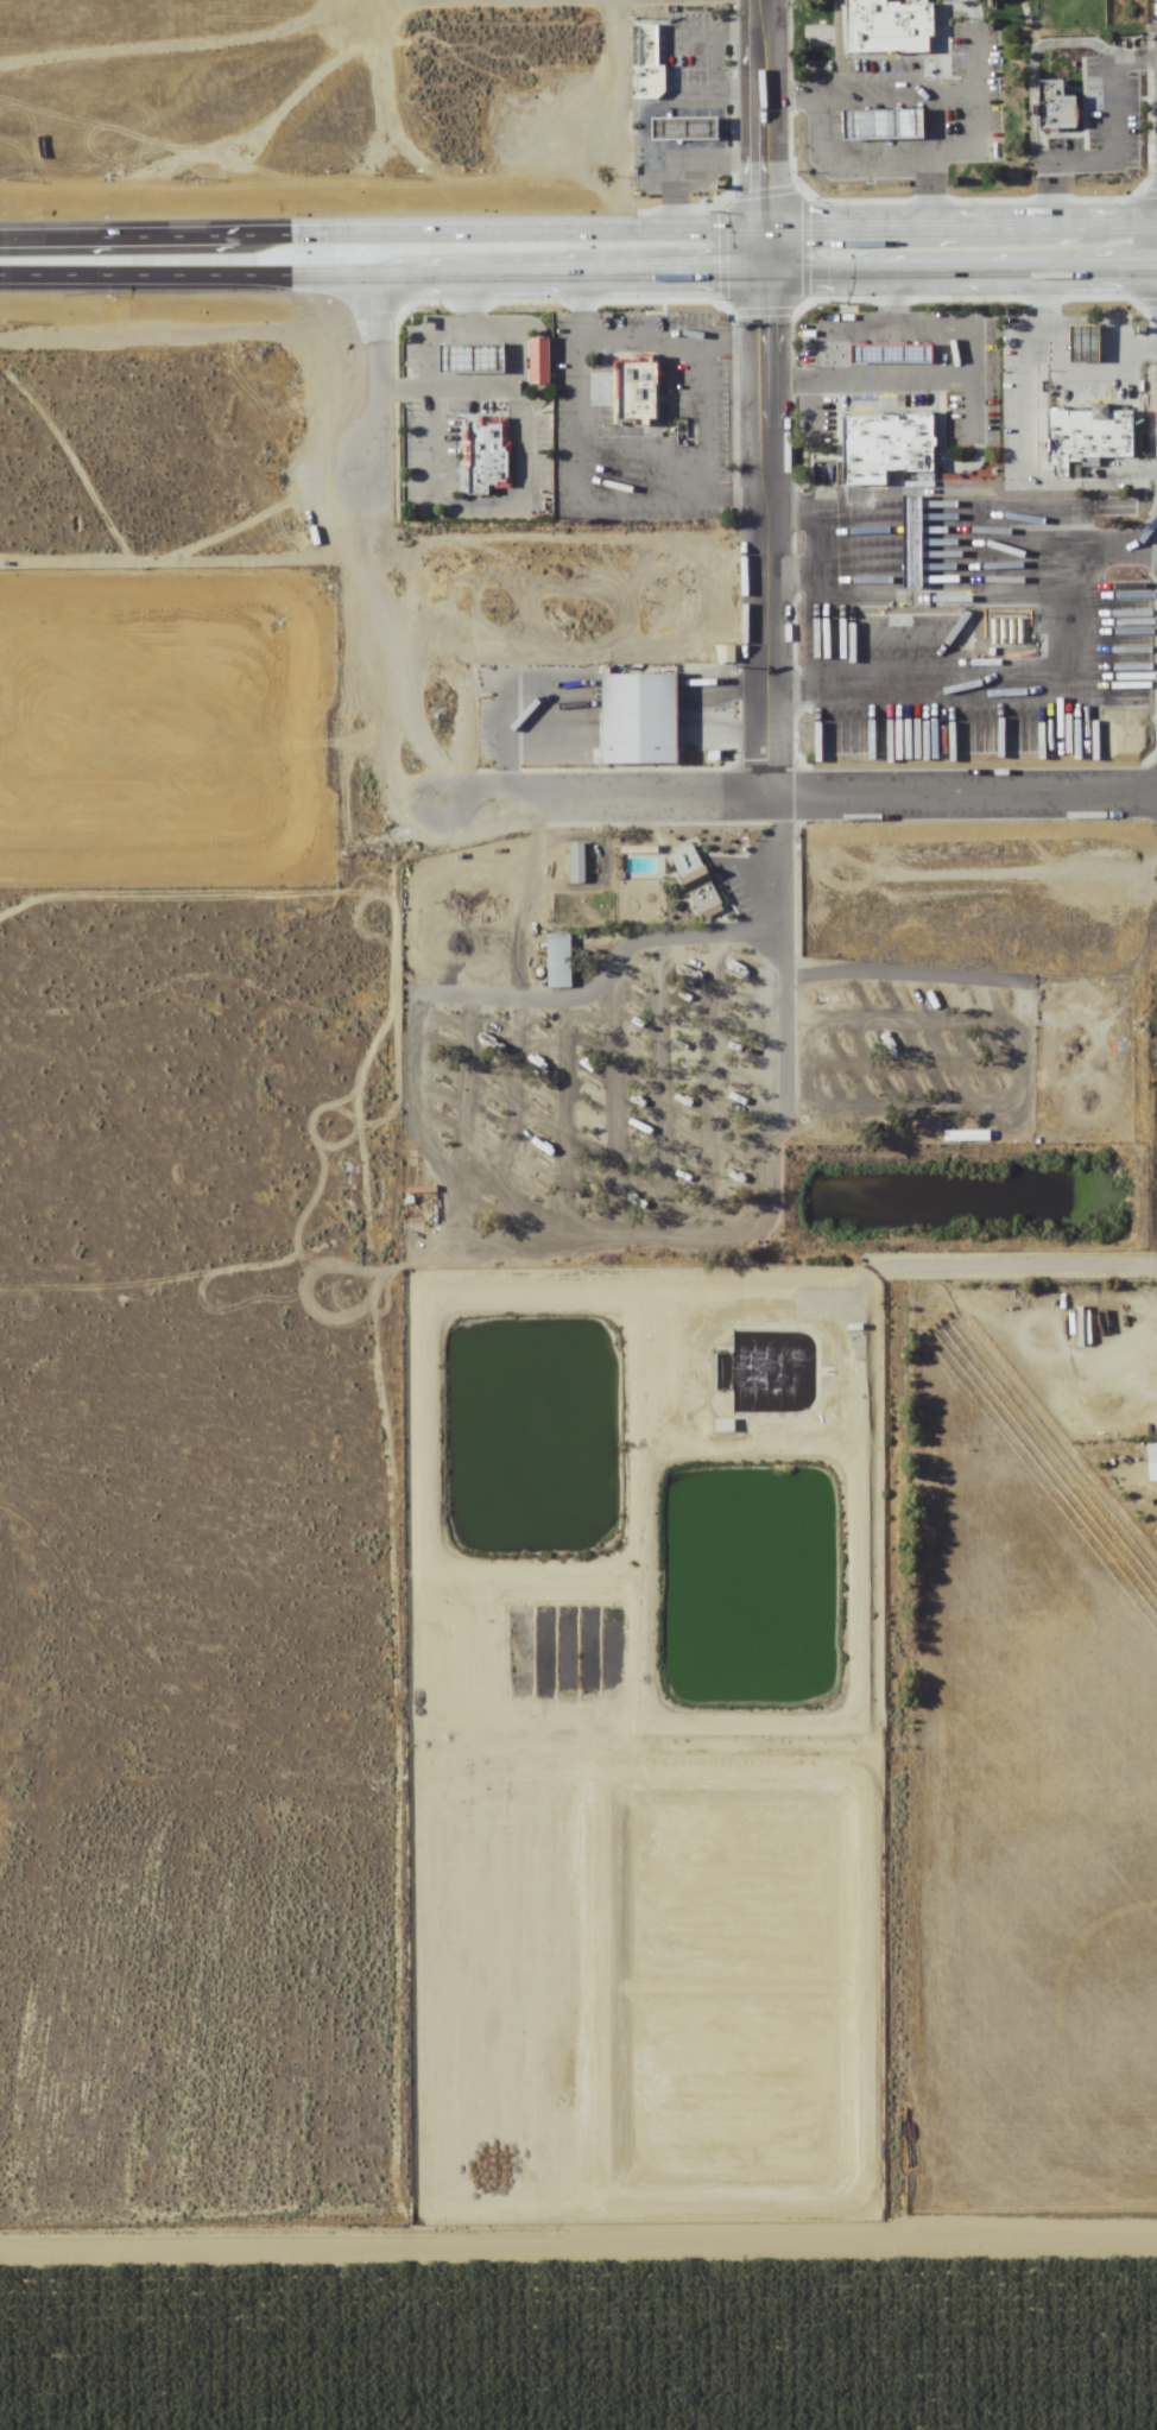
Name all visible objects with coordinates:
building: (893, 26)
building: (651, 72)
road: (1035, 72)
road: (931, 95)
building: (1060, 97)
road: (942, 125)
building: (873, 126)
building: (687, 140)
road: (979, 140)
road: (881, 156)
road: (1109, 162)
road: (728, 261)
road: (150, 272)
road: (728, 284)
road: (150, 285)
road: (1043, 302)
road: (1117, 303)
road: (897, 305)
road: (469, 308)
road: (470, 328)
road: (969, 338)
road: (669, 340)
building: (1083, 344)
building: (898, 352)
building: (476, 356)
gas station: (476, 356)
building: (544, 359)
road: (546, 362)
road: (1085, 374)
building: (645, 385)
road: (384, 386)
road: (788, 386)
road: (460, 390)
road: (394, 391)
road: (1029, 393)
road: (763, 400)
road: (516, 404)
road: (813, 412)
road: (969, 417)
parking lot: (643, 420)
road: (706, 423)
road: (663, 425)
building: (483, 430)
building: (1092, 434)
building: (893, 444)
building: (514, 448)
building: (494, 462)
building: (516, 481)
road: (577, 487)
road: (514, 495)
road: (438, 496)
road: (479, 517)
road: (783, 523)
road: (953, 523)
building: (918, 540)
road: (1151, 558)
road: (783, 582)
road: (813, 582)
road: (823, 607)
road: (1042, 689)
road: (783, 691)
road: (803, 800)
building: (694, 879)
building: (558, 961)
building: (1151, 1454)
building: (959, 1654)
crop: (578, 1844)
road: (578, 2253)
crop: (576, 2335)

